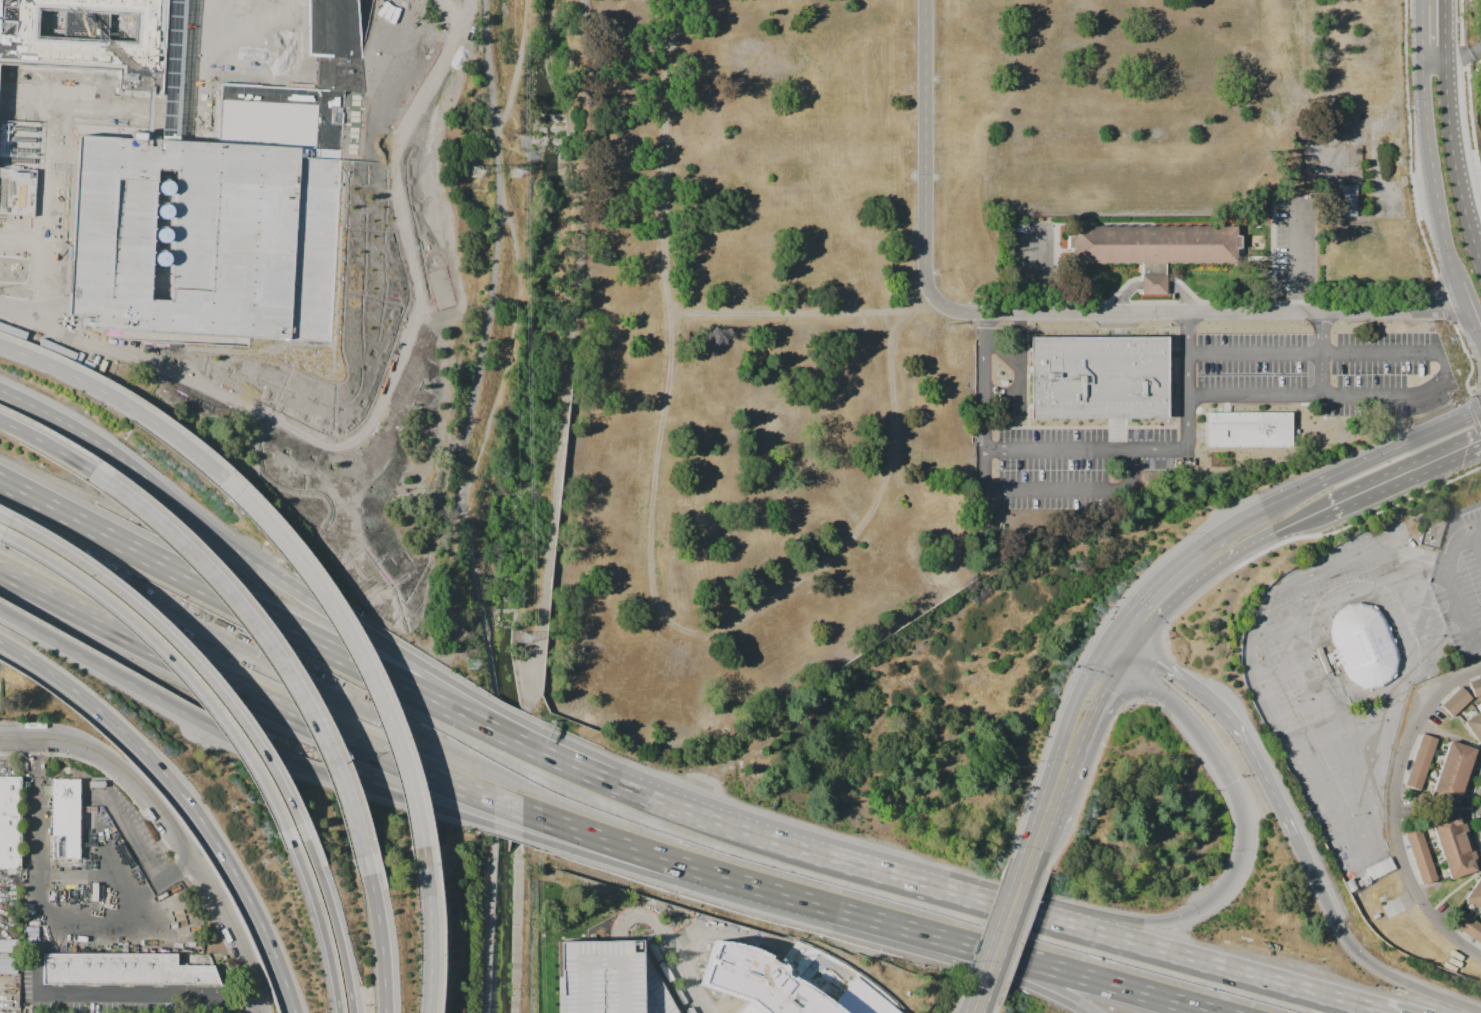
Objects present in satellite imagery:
building: (88, 39)
road: (1452, 55)
road: (406, 58)
road: (458, 62)
road: (1477, 63)
road: (1468, 89)
road: (1450, 130)
road: (2, 151)
power tower: (476, 172)
power tower: (515, 172)
road: (1431, 177)
building: (1352, 200)
road: (419, 204)
parking lot: (18, 206)
road: (376, 207)
parking lot: (397, 207)
building: (222, 208)
building: (1153, 248)
road: (1292, 255)
road: (669, 288)
road: (1046, 316)
road: (1185, 332)
road: (480, 350)
road: (1252, 351)
building: (1098, 377)
road: (979, 384)
road: (1430, 388)
road: (1254, 392)
road: (121, 402)
road: (440, 425)
road: (1186, 425)
building: (1248, 430)
road: (47, 445)
road: (1057, 450)
road: (1352, 469)
road: (1402, 480)
road: (1475, 544)
road: (1231, 556)
road: (1163, 576)
parking lot: (1460, 581)
road: (1448, 585)
road: (323, 607)
road: (732, 620)
road: (1248, 630)
road: (1145, 636)
traffic signals: (1116, 637)
power tower: (525, 638)
road: (1126, 643)
building: (1364, 645)
road: (274, 647)
road: (1110, 647)
road: (327, 649)
road: (361, 649)
traffic signals: (1137, 649)
road: (186, 650)
traffic signals: (1104, 657)
road: (1131, 659)
road: (179, 662)
power tower: (474, 663)
road: (1114, 663)
traffic signals: (1125, 669)
parking lot: (1344, 680)
building: (1475, 687)
road: (144, 689)
building: (1456, 701)
road: (1235, 725)
building: (1474, 726)
road: (1450, 737)
road: (14, 738)
road: (1085, 746)
road: (376, 752)
road: (1060, 758)
building: (1420, 761)
building: (1454, 773)
traffic signals: (1230, 783)
road: (186, 798)
road: (1398, 812)
building: (68, 820)
building: (10, 823)
road: (720, 825)
road: (529, 837)
road: (1242, 837)
road: (131, 838)
road: (180, 840)
building: (1455, 844)
road: (36, 855)
building: (1420, 856)
road: (1042, 858)
road: (832, 861)
building: (1380, 869)
road: (177, 874)
road: (1020, 874)
building: (1364, 882)
road: (917, 884)
building: (1351, 885)
road: (1456, 892)
building: (1386, 894)
building: (1475, 894)
road: (1015, 902)
road: (810, 903)
road: (1008, 909)
road: (1335, 923)
road: (488, 925)
road: (343, 926)
building: (1467, 926)
road: (1071, 927)
road: (331, 929)
road: (438, 931)
road: (952, 941)
road: (995, 942)
road: (389, 944)
road: (670, 945)
building: (9, 946)
road: (1010, 947)
road: (1164, 953)
road: (973, 960)
building: (9, 963)
building: (126, 970)
road: (1066, 973)
building: (610, 978)
parking lot: (610, 978)
building: (757, 980)
road: (1145, 994)
road: (130, 996)
road: (1311, 996)
road: (1444, 999)
road: (971, 1006)
road: (988, 1009)

